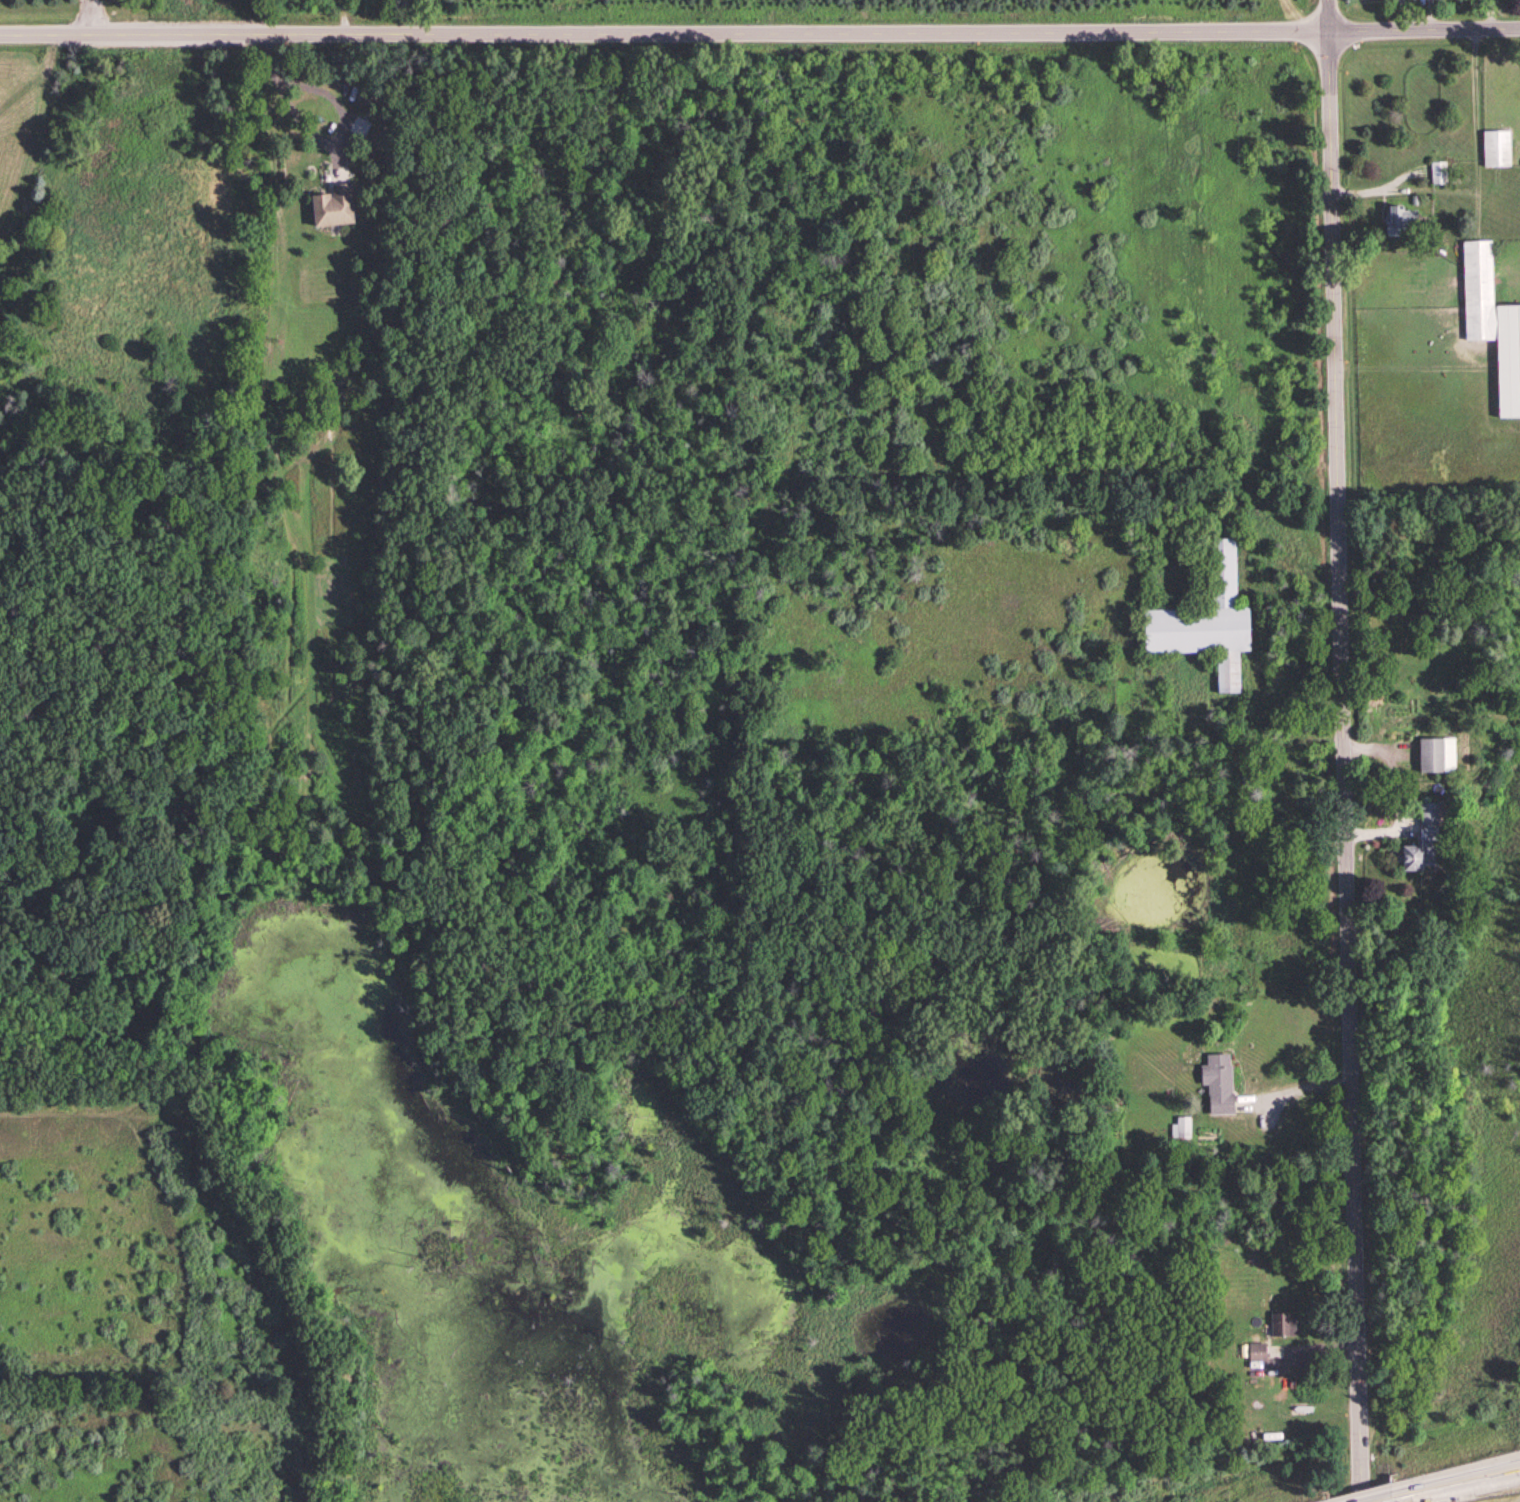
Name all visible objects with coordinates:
road: (101, 20)
road: (760, 37)
road: (328, 97)
road: (294, 113)
building: (1498, 148)
building: (1440, 173)
building: (336, 208)
building: (1403, 221)
building: (1493, 321)
building: (1209, 620)
road: (1349, 750)
building: (1440, 755)
building: (1279, 813)
building: (1427, 841)
road: (1302, 1082)
building: (1220, 1083)
building: (1182, 1127)
building: (1284, 1325)
building: (1257, 1352)
road: (1478, 1491)

